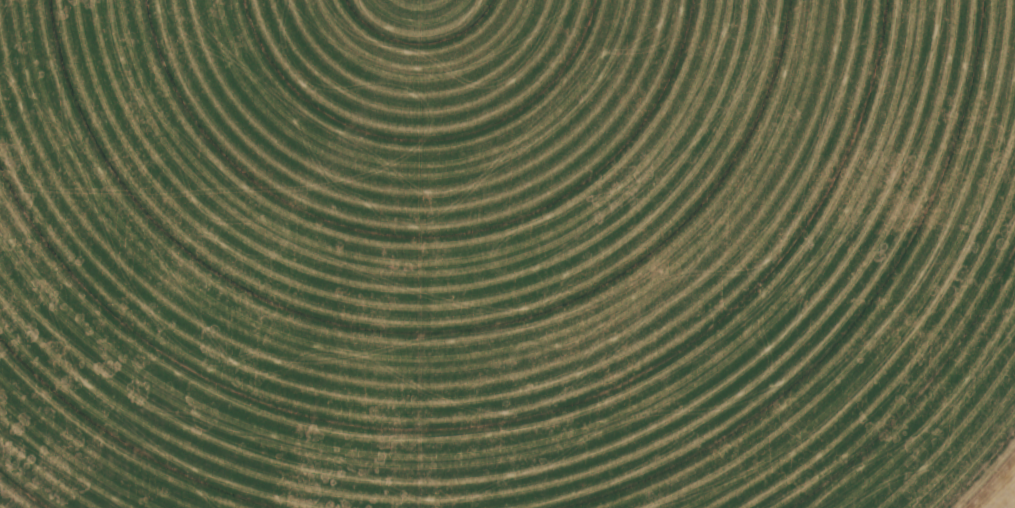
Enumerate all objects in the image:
crop: (506, 253)

